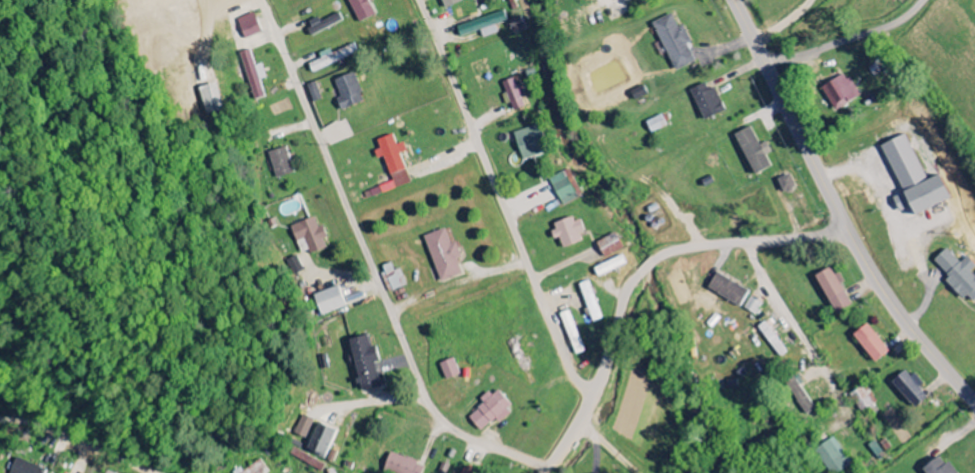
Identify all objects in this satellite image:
building: (441, 0)
building: (451, 3)
building: (359, 10)
building: (322, 24)
building: (246, 26)
building: (480, 26)
road: (848, 39)
building: (673, 43)
building: (330, 58)
building: (253, 76)
building: (346, 92)
building: (839, 92)
building: (638, 93)
building: (514, 94)
building: (706, 102)
building: (654, 124)
building: (527, 144)
building: (751, 152)
building: (278, 163)
building: (391, 164)
building: (910, 180)
building: (784, 184)
building: (563, 188)
road: (500, 201)
road: (838, 211)
building: (567, 232)
building: (307, 235)
building: (607, 247)
building: (441, 256)
road: (369, 265)
building: (607, 267)
building: (957, 274)
road: (636, 275)
building: (391, 278)
building: (831, 290)
building: (726, 291)
building: (328, 301)
building: (587, 302)
building: (750, 307)
road: (788, 320)
building: (569, 333)
building: (868, 344)
building: (363, 364)
building: (446, 370)
building: (907, 389)
building: (864, 397)
building: (488, 411)
building: (304, 427)
building: (321, 440)
road: (89, 447)
building: (832, 456)
building: (401, 466)
building: (935, 467)
building: (26, 468)
building: (256, 468)

